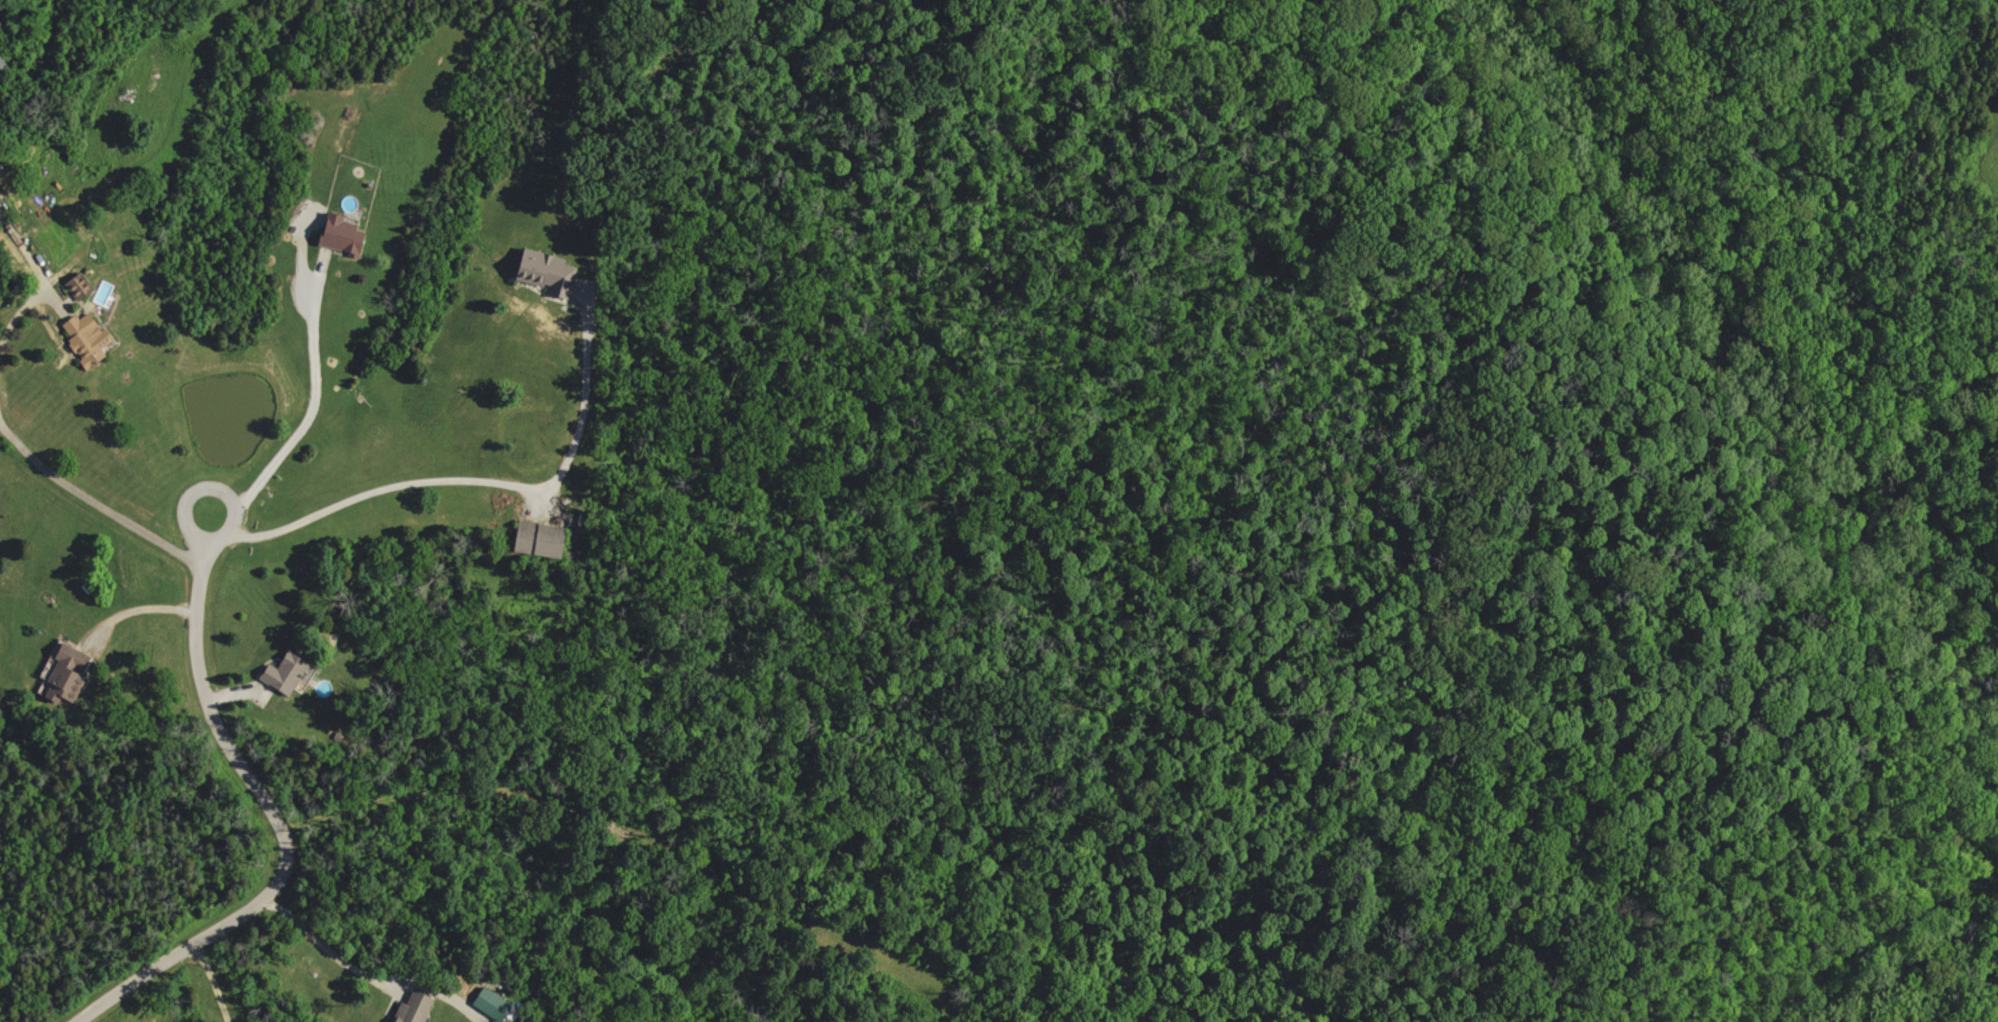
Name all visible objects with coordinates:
building: (3, 62)
building: (1, 187)
building: (347, 234)
building: (551, 271)
building: (80, 289)
road: (17, 316)
building: (91, 338)
road: (312, 399)
road: (477, 481)
road: (211, 489)
road: (94, 503)
building: (545, 539)
road: (129, 602)
building: (71, 673)
building: (290, 674)
road: (280, 829)
road: (364, 975)
building: (496, 1005)
building: (419, 1008)

